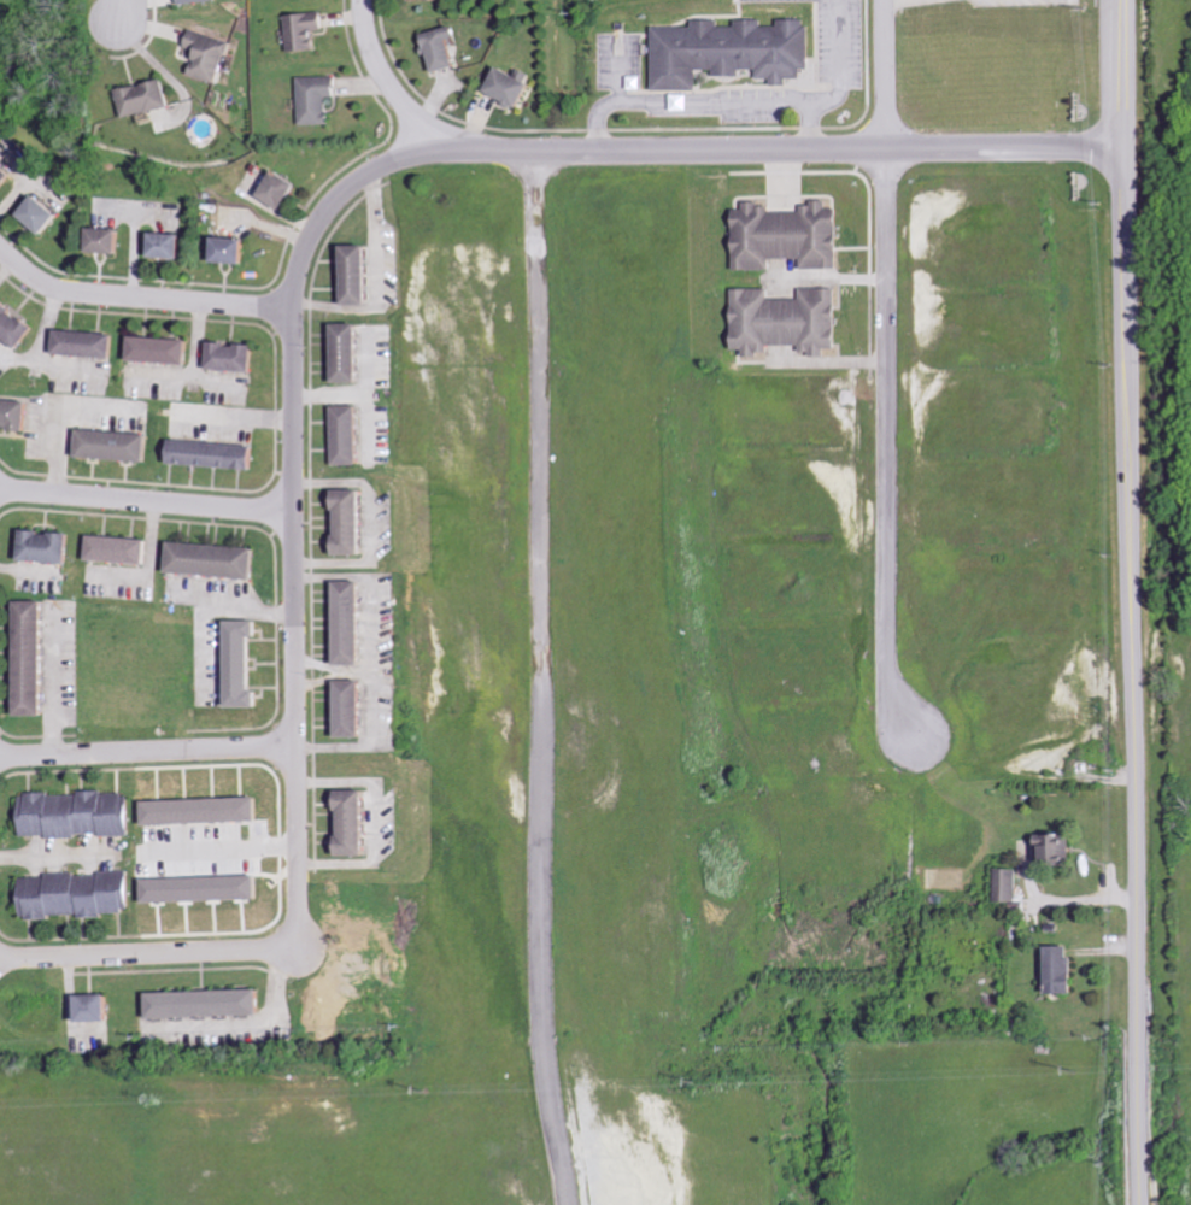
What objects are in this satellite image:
building: (412, 0)
building: (198, 1)
road: (124, 11)
building: (300, 31)
building: (435, 49)
building: (723, 52)
building: (215, 54)
road: (885, 75)
building: (504, 88)
building: (148, 98)
building: (319, 101)
road: (704, 152)
building: (6, 175)
building: (284, 189)
road: (11, 190)
building: (43, 213)
building: (778, 237)
building: (110, 240)
building: (174, 243)
building: (236, 249)
road: (131, 253)
building: (360, 274)
road: (375, 280)
road: (147, 299)
building: (778, 322)
building: (14, 324)
road: (37, 340)
building: (88, 342)
building: (164, 348)
building: (352, 352)
building: (236, 355)
road: (63, 364)
road: (193, 368)
road: (213, 376)
road: (357, 393)
road: (58, 411)
building: (16, 413)
road: (236, 415)
road: (364, 423)
building: (351, 434)
building: (118, 445)
road: (887, 445)
building: (217, 453)
road: (147, 501)
building: (356, 521)
road: (366, 522)
building: (49, 546)
building: (122, 548)
building: (217, 559)
road: (145, 565)
road: (24, 569)
road: (189, 594)
road: (205, 596)
road: (370, 596)
road: (1134, 602)
road: (295, 619)
building: (354, 622)
building: (36, 657)
building: (247, 663)
road: (346, 670)
road: (539, 680)
road: (52, 686)
building: (356, 707)
road: (369, 742)
road: (147, 752)
building: (207, 810)
building: (78, 813)
road: (370, 819)
building: (358, 823)
building: (1048, 848)
road: (53, 853)
building: (1004, 884)
building: (207, 888)
building: (78, 894)
building: (1052, 970)
building: (210, 1004)
building: (101, 1007)
road: (253, 1023)

